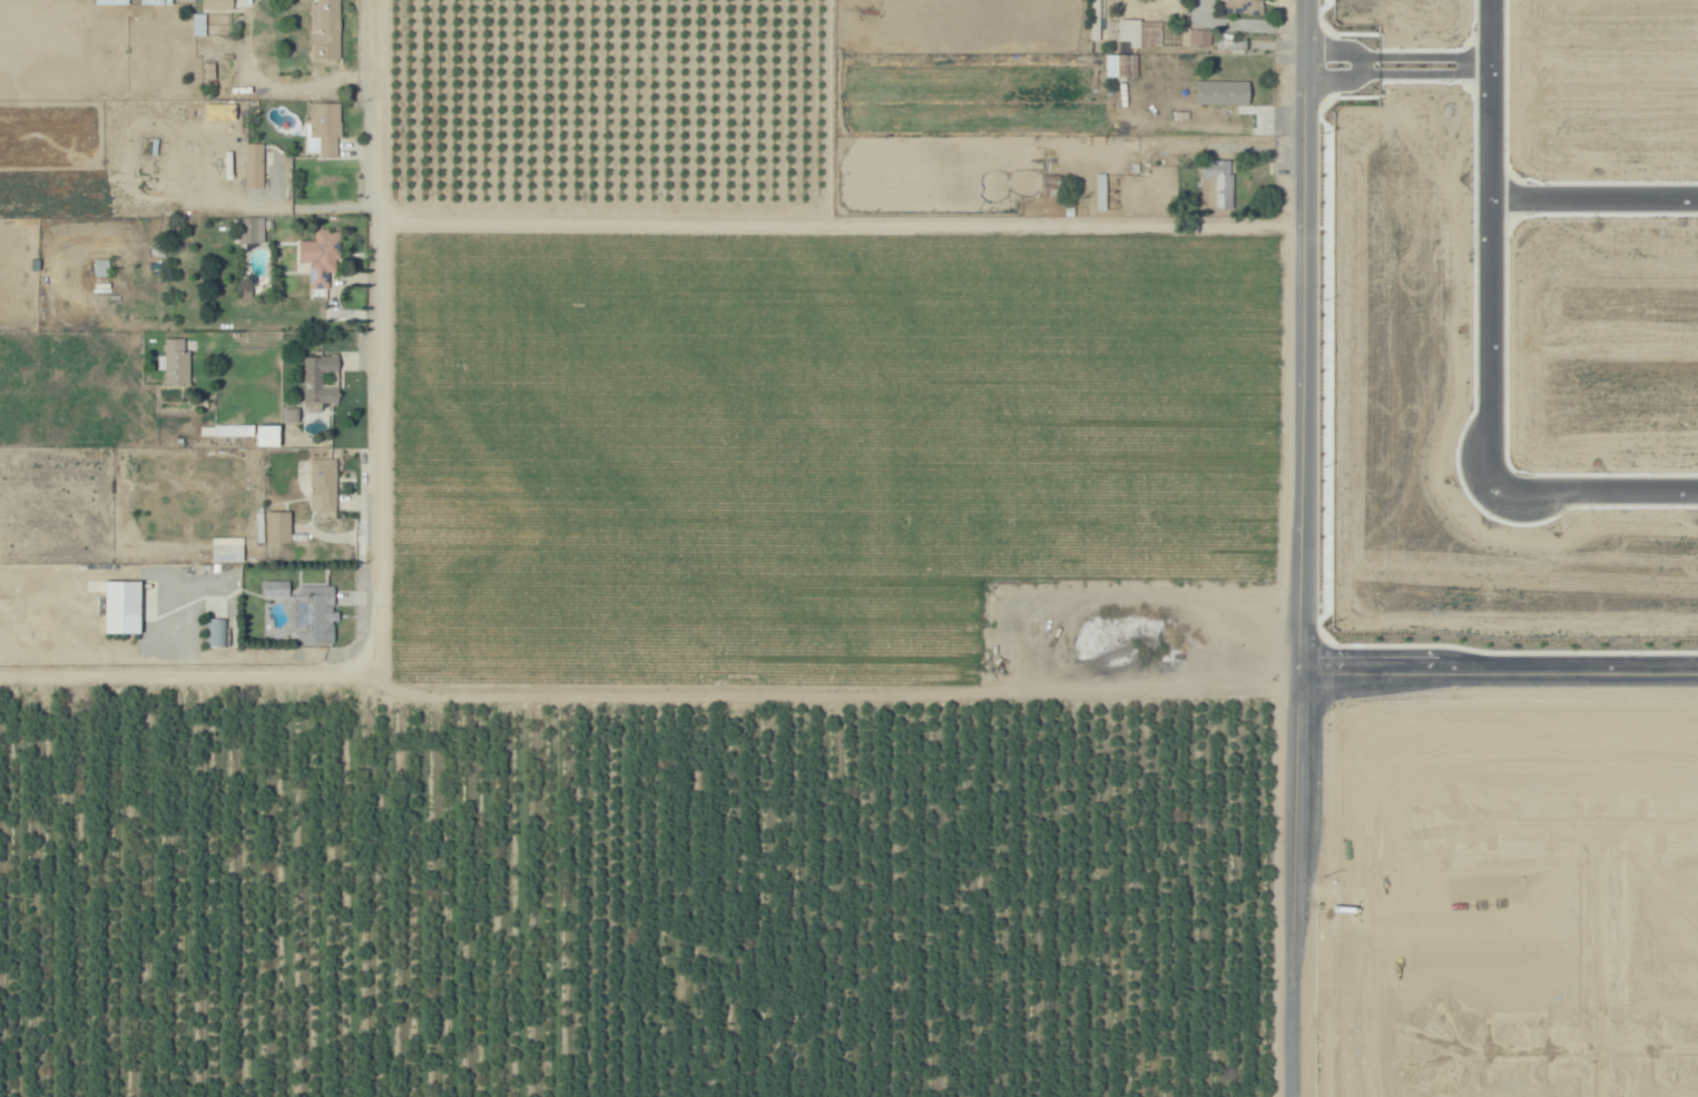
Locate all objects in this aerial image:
building: (109, 1)
building: (164, 2)
building: (218, 4)
building: (1245, 6)
building: (197, 23)
road: (1239, 26)
building: (1113, 27)
building: (327, 29)
building: (1197, 37)
building: (1227, 39)
building: (1119, 65)
road: (1393, 69)
building: (1205, 77)
building: (327, 127)
building: (197, 160)
building: (255, 167)
building: (1217, 184)
building: (1052, 186)
building: (1098, 191)
road: (1593, 201)
road: (1172, 227)
building: (253, 230)
building: (200, 234)
road: (1488, 249)
building: (324, 257)
building: (102, 268)
road: (379, 340)
building: (177, 363)
building: (322, 369)
building: (287, 415)
building: (236, 418)
building: (272, 424)
building: (265, 435)
building: (324, 485)
road: (1592, 498)
building: (281, 528)
building: (229, 543)
road: (1296, 548)
building: (277, 590)
building: (120, 606)
building: (314, 615)
building: (217, 634)
crop: (710, 639)
road: (848, 681)
road: (1567, 822)
road: (1603, 959)
road: (1561, 1044)

